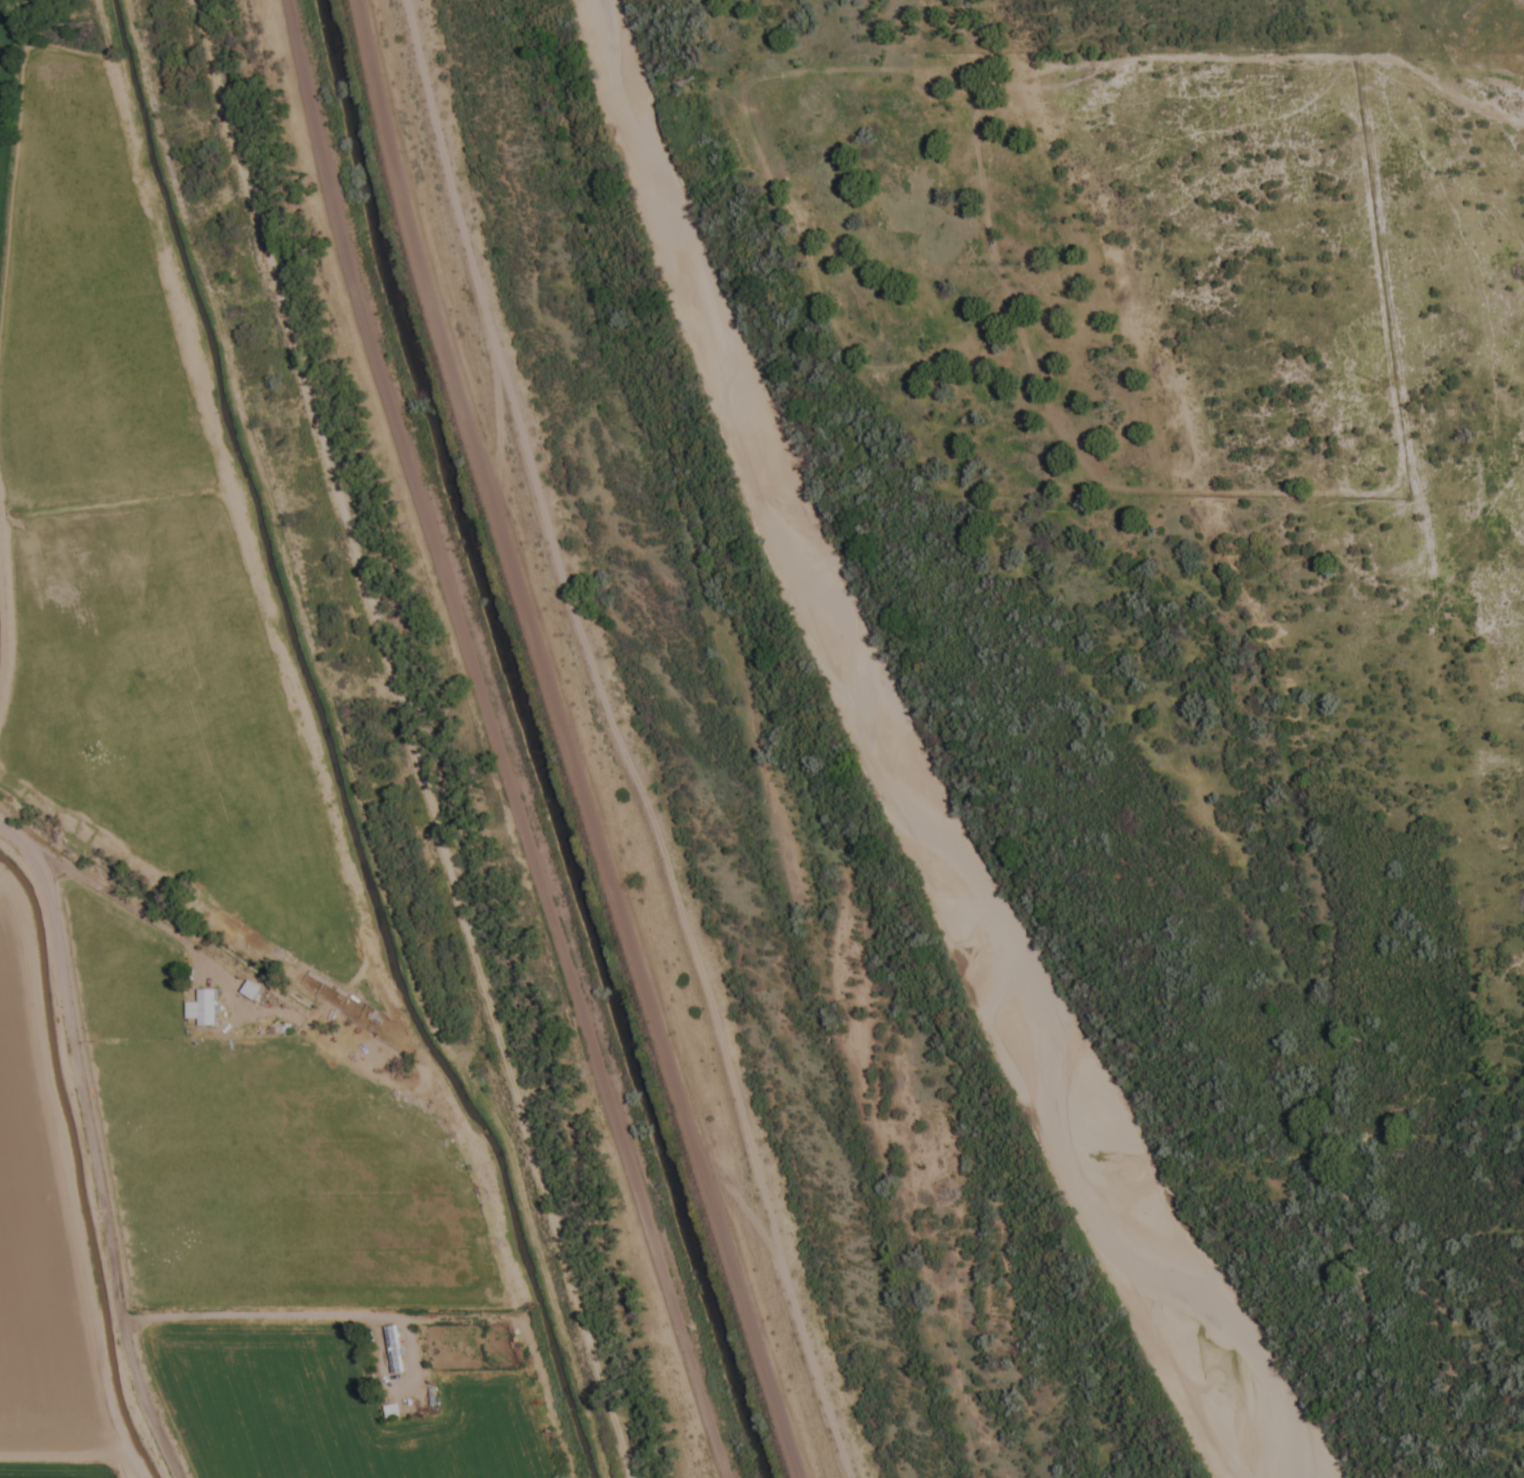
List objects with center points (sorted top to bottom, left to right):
road: (499, 740)
road: (606, 747)
river: (882, 757)
building: (251, 991)
building: (201, 1009)
road: (96, 1153)
building: (392, 1351)
building: (391, 1412)

